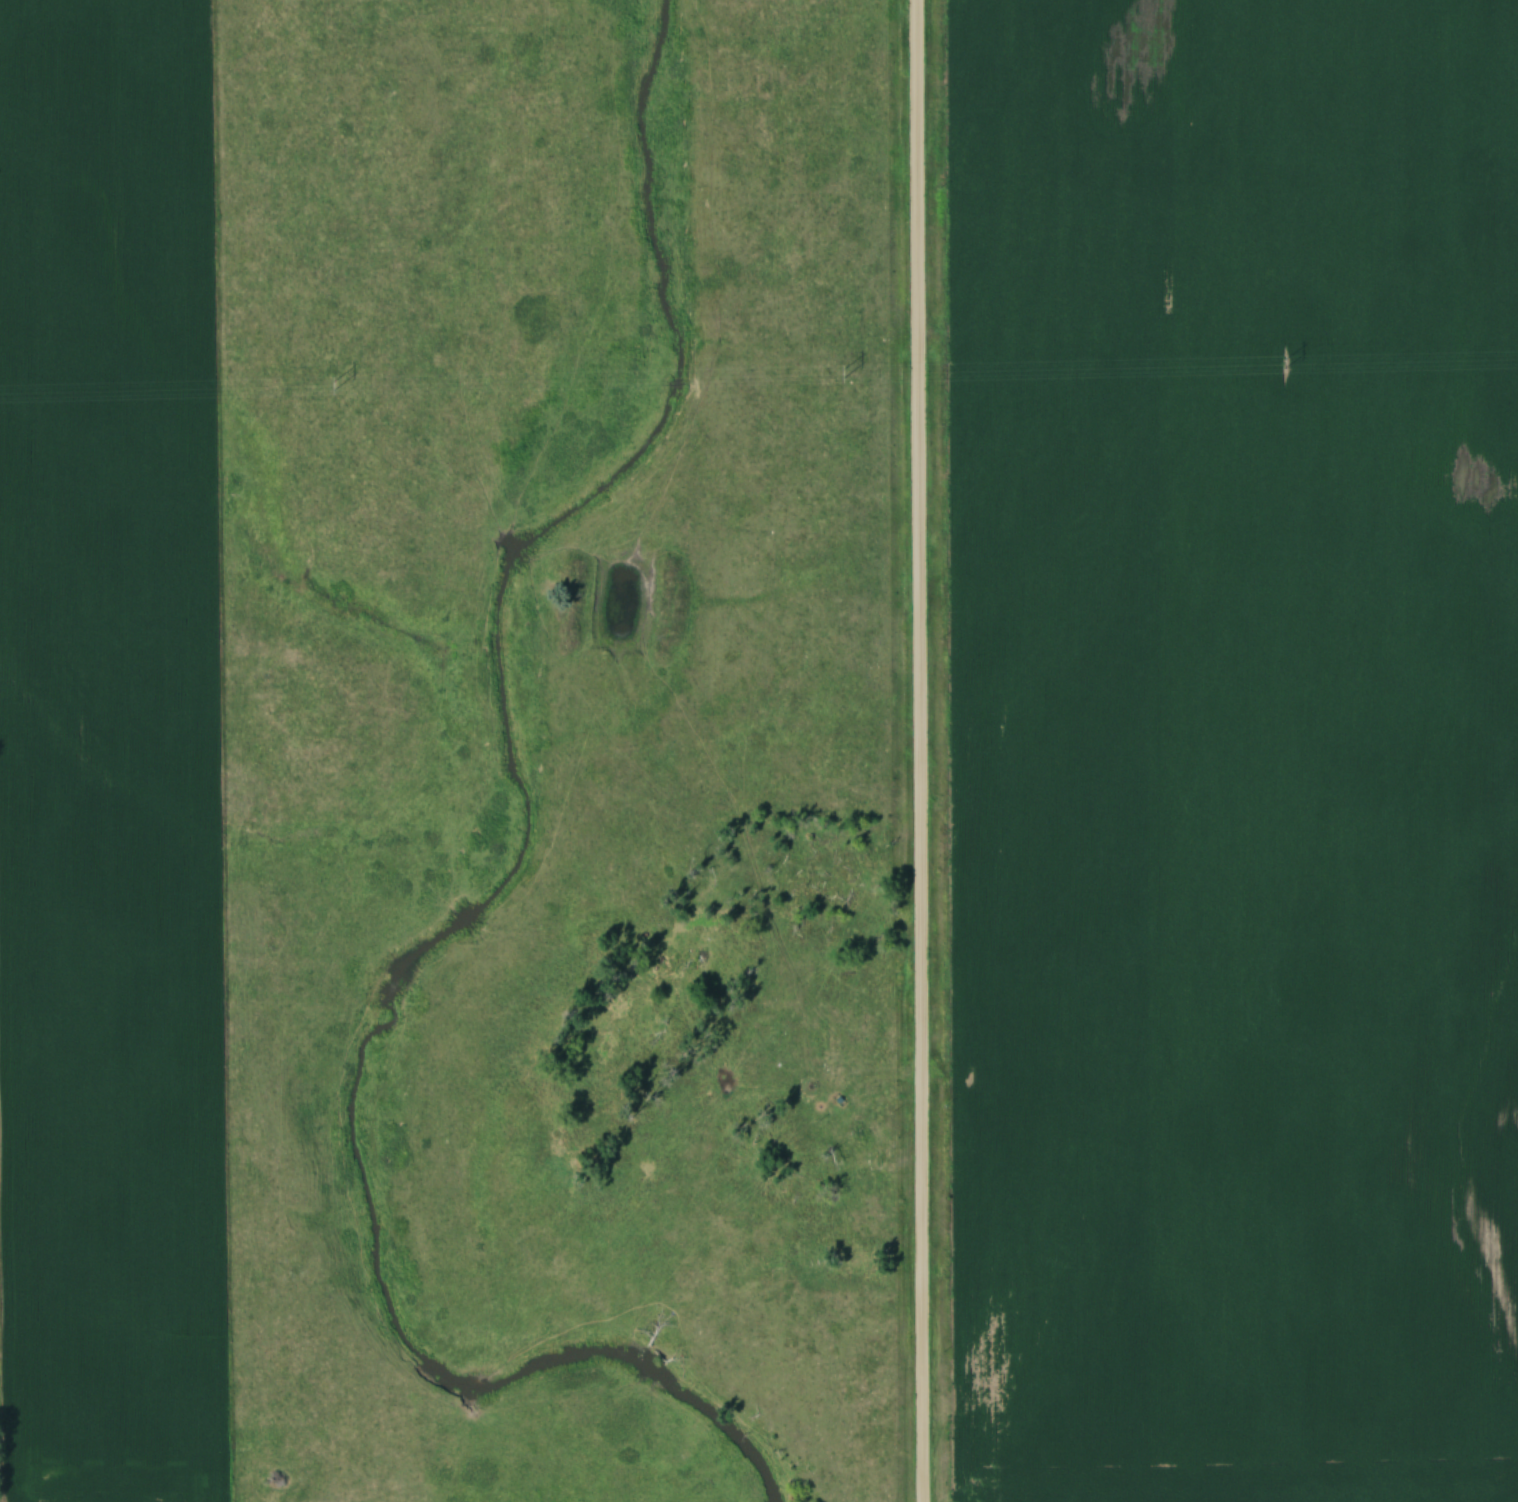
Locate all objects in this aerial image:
power tower: (1283, 364)
power tower: (841, 374)
power tower: (332, 386)
road: (919, 751)

